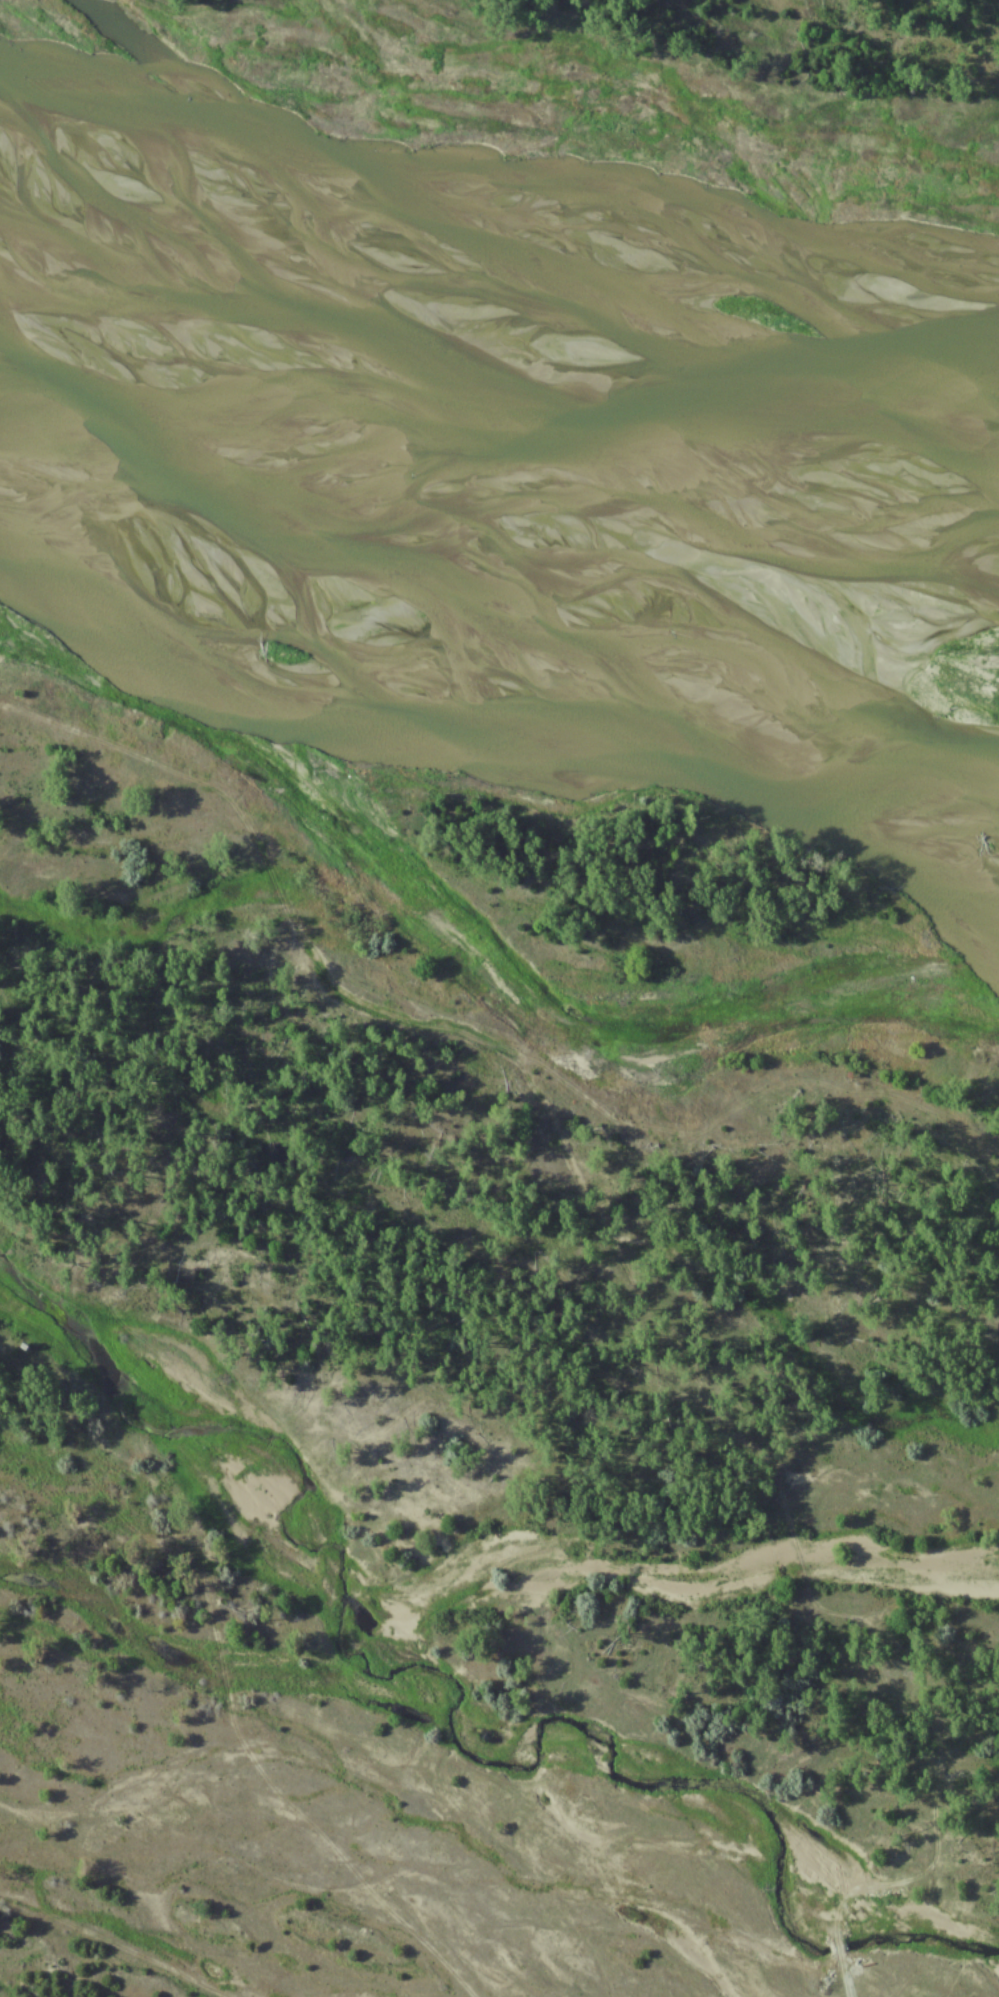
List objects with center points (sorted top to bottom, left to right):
river: (494, 494)

